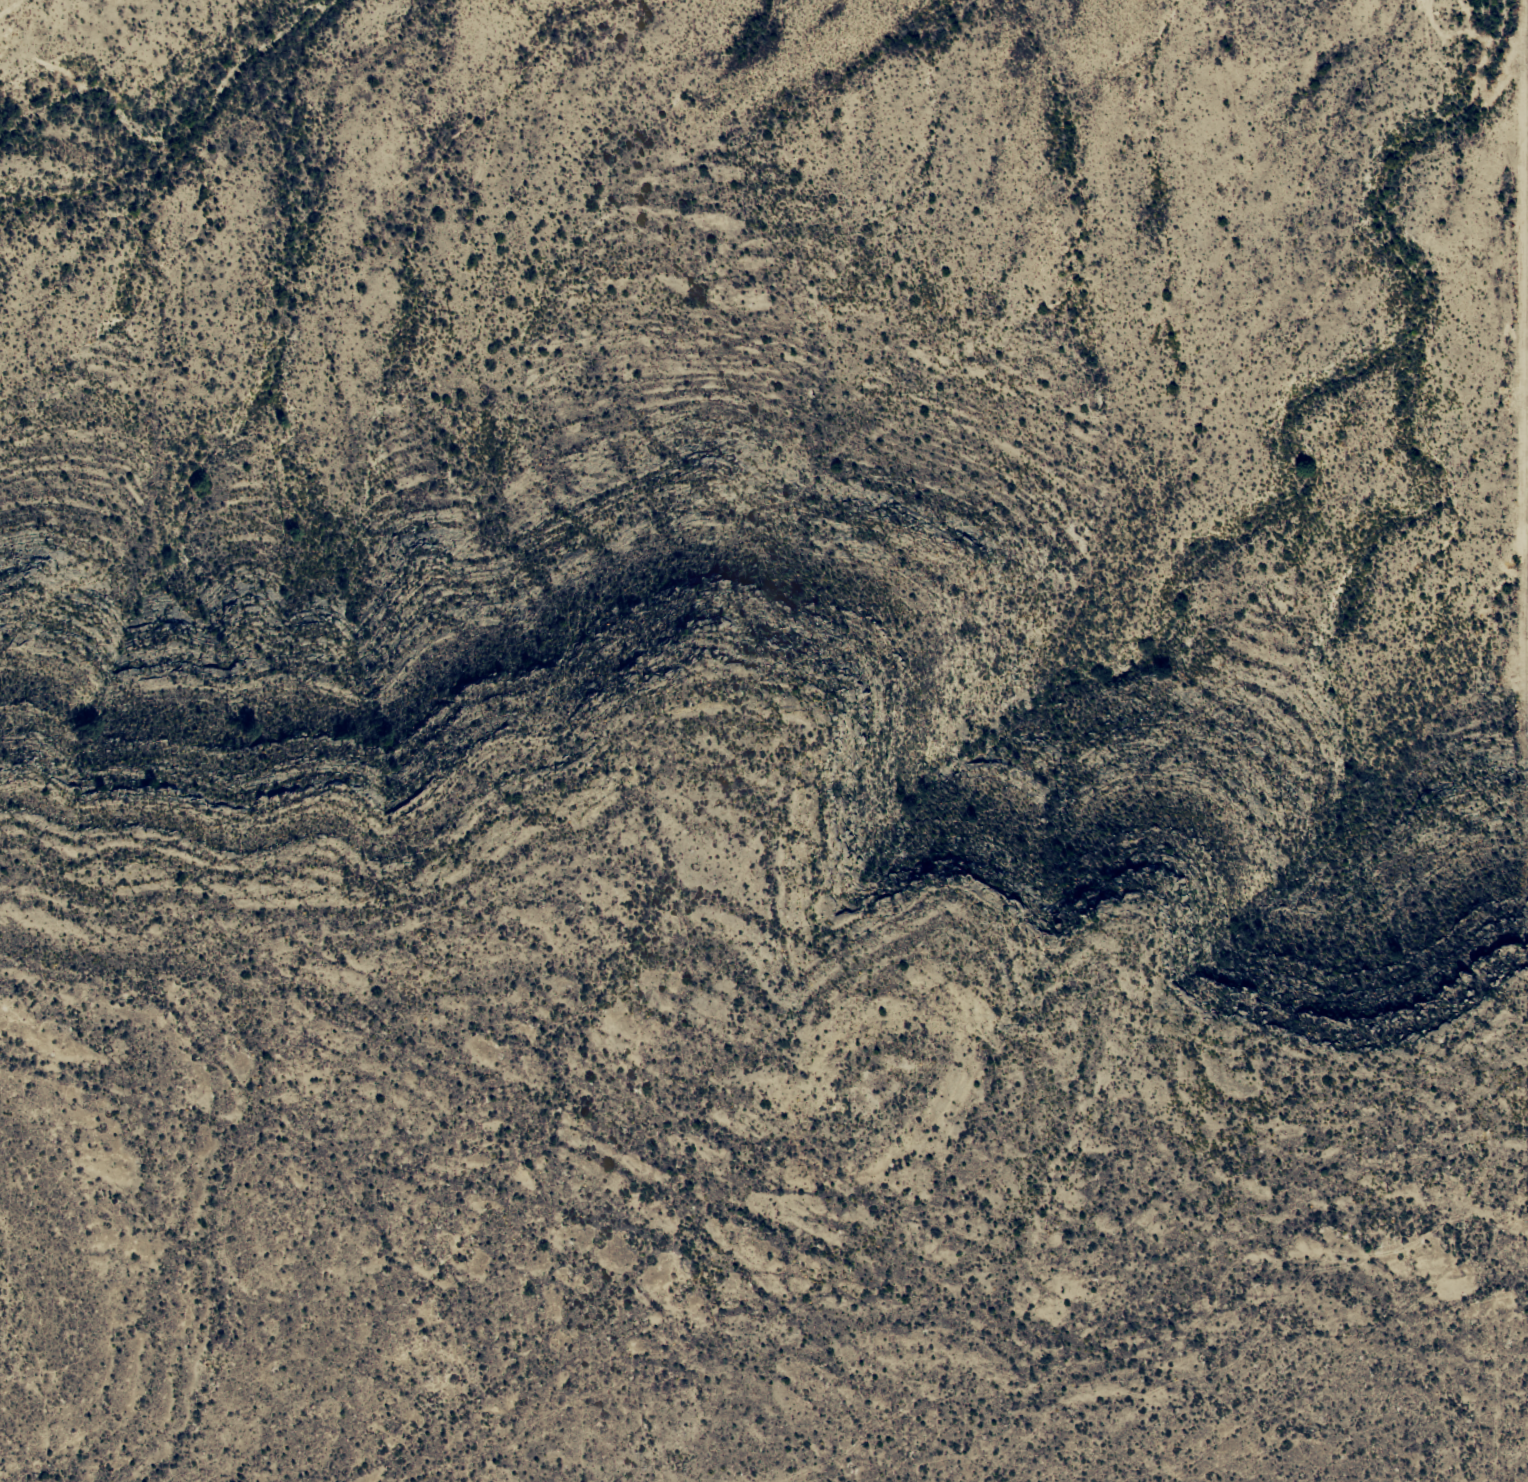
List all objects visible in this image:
road: (1274, 1303)

